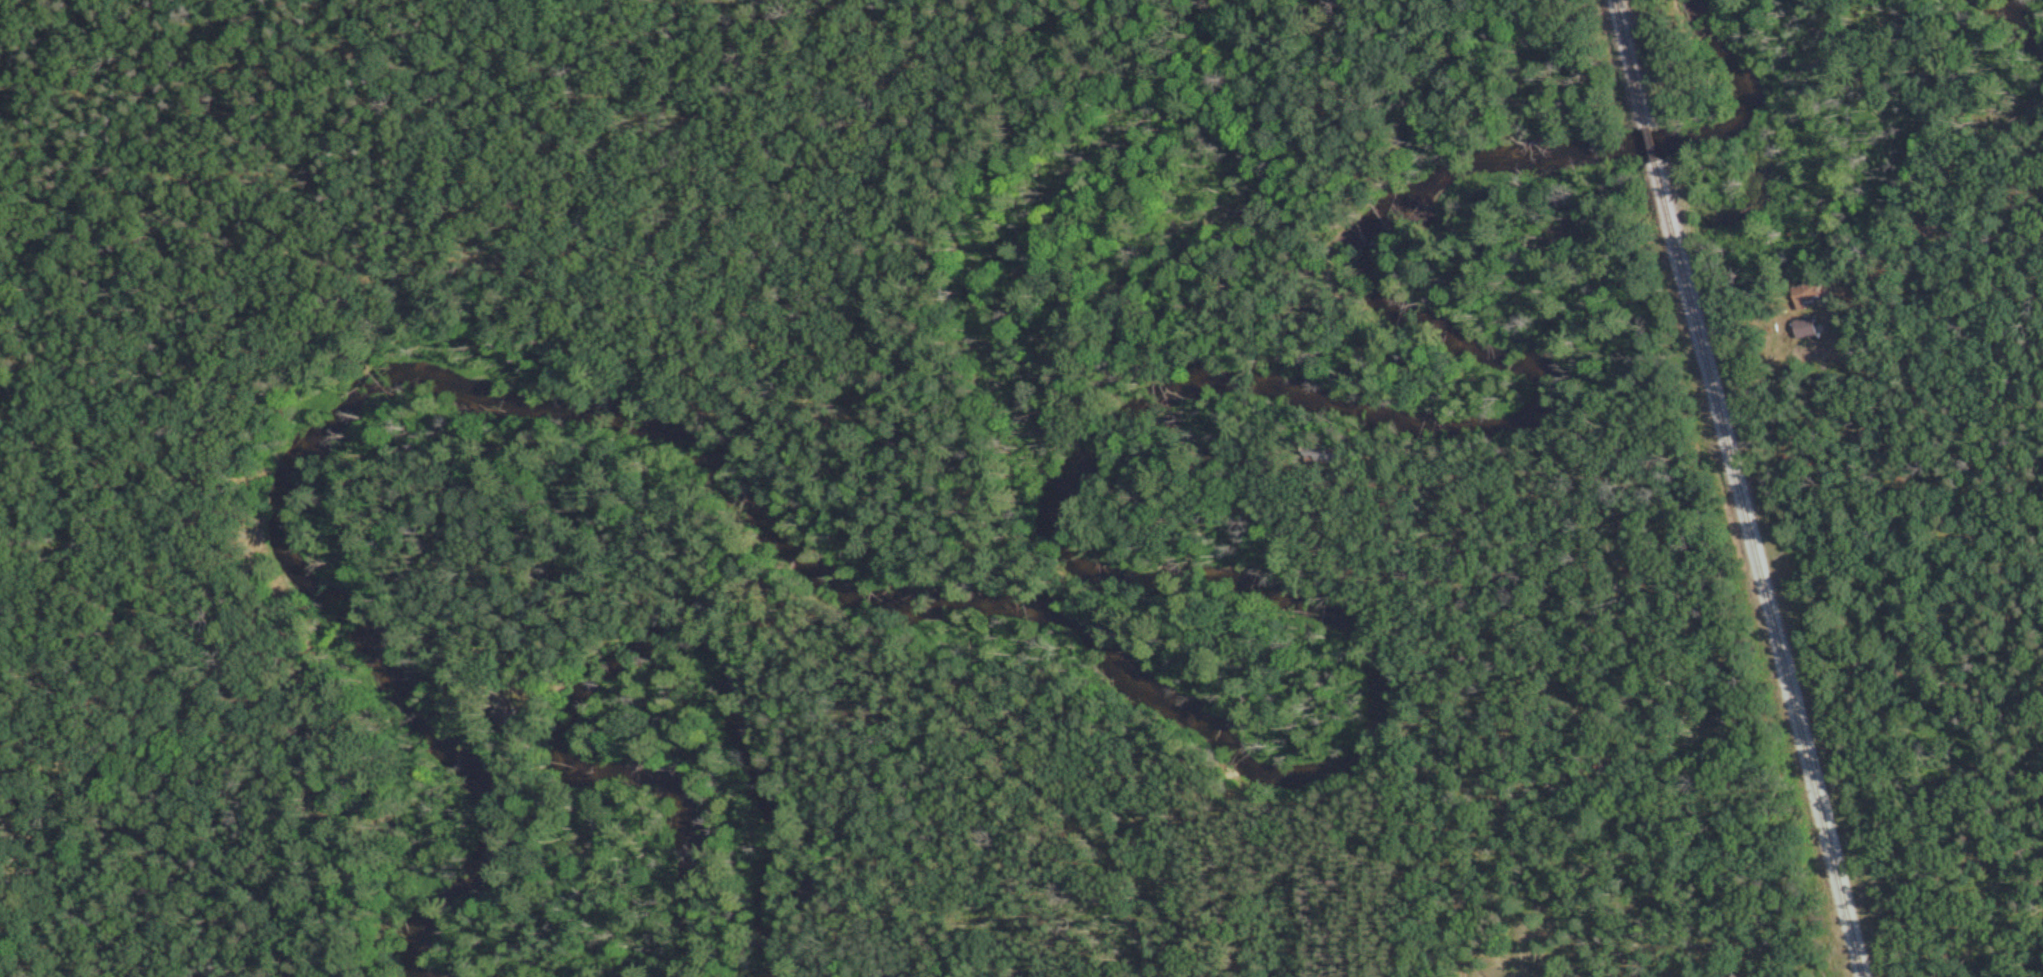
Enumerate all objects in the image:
river: (2022, 26)
railway: (1628, 63)
railway: (1648, 144)
railway: (1756, 569)
river: (619, 661)
road: (837, 664)
river: (1366, 744)

